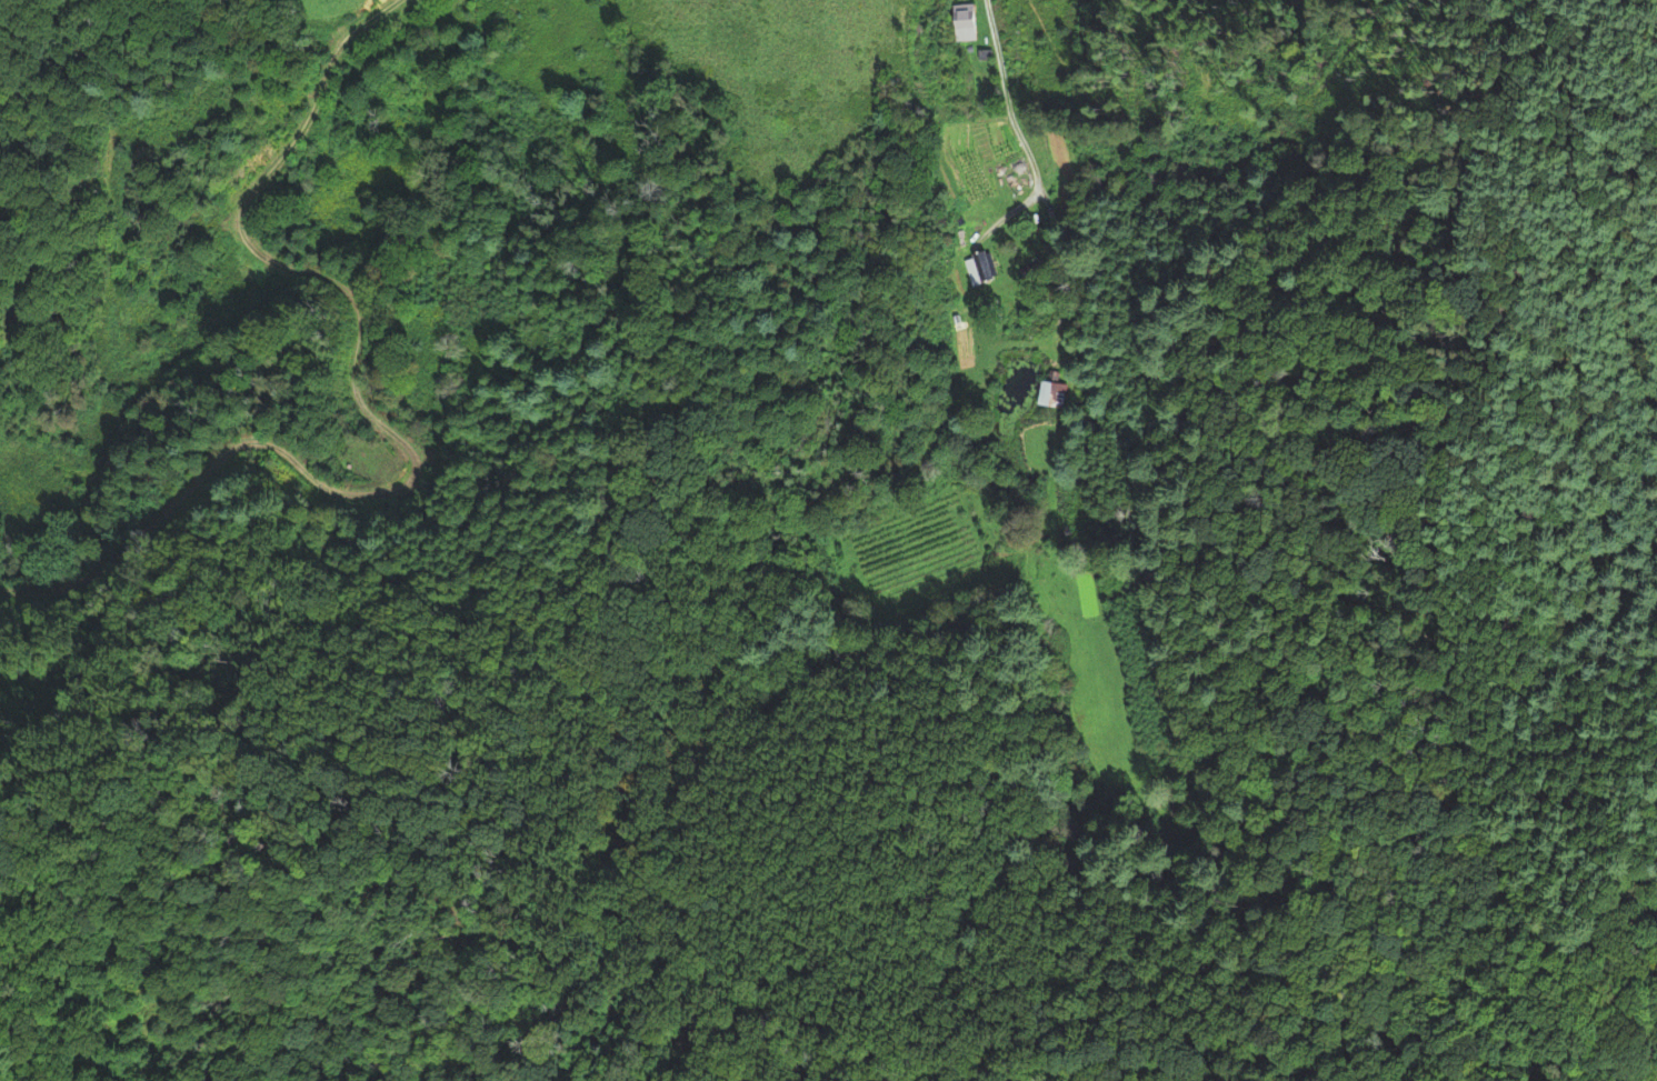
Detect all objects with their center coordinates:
building: (967, 24)
building: (972, 269)
building: (1045, 394)

